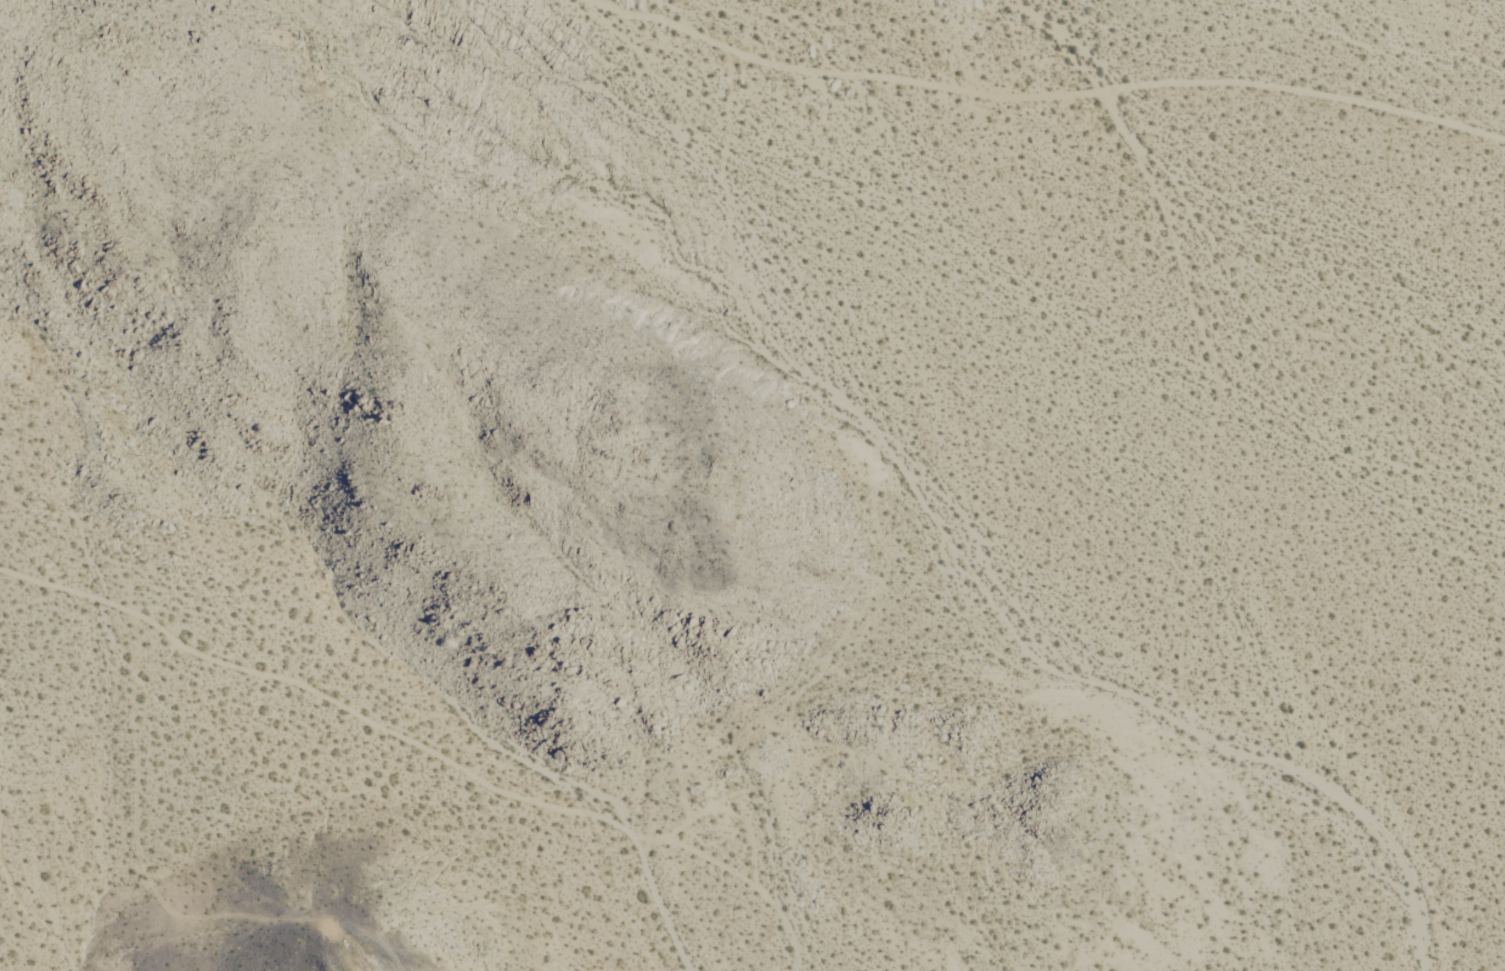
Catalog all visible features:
road: (1062, 82)

